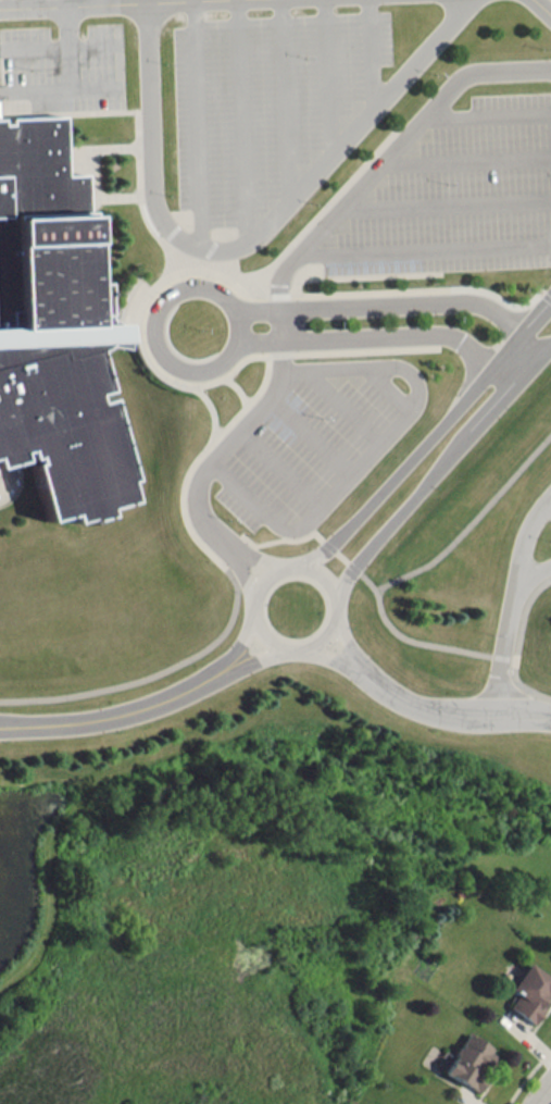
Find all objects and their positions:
road: (548, 2)
road: (42, 5)
road: (45, 11)
road: (63, 23)
road: (91, 33)
road: (33, 36)
parking lot: (65, 58)
road: (366, 58)
road: (92, 79)
road: (324, 79)
road: (55, 80)
road: (280, 102)
road: (139, 107)
road: (486, 108)
road: (237, 123)
road: (193, 127)
road: (135, 137)
road: (98, 138)
road: (386, 149)
road: (465, 150)
road: (89, 164)
parking lot: (460, 187)
road: (110, 188)
road: (444, 196)
road: (320, 203)
road: (424, 238)
road: (245, 243)
road: (356, 266)
road: (449, 295)
road: (397, 302)
building: (53, 319)
road: (130, 322)
road: (137, 322)
road: (153, 328)
road: (383, 335)
road: (437, 338)
road: (279, 339)
road: (237, 381)
road: (386, 386)
road: (417, 395)
road: (211, 404)
road: (341, 404)
road: (311, 434)
road: (434, 435)
parking lot: (306, 442)
road: (200, 455)
road: (442, 463)
road: (283, 467)
road: (202, 507)
road: (288, 537)
road: (233, 539)
road: (331, 545)
road: (261, 550)
road: (343, 554)
road: (223, 556)
road: (416, 560)
road: (247, 563)
road: (355, 563)
road: (530, 563)
road: (370, 571)
road: (259, 580)
road: (511, 593)
road: (524, 599)
road: (296, 629)
road: (343, 632)
road: (243, 637)
road: (334, 645)
road: (501, 647)
road: (253, 649)
road: (513, 649)
road: (514, 649)
road: (152, 672)
road: (525, 679)
road: (112, 705)
road: (452, 706)
building: (530, 982)
road: (527, 1026)
building: (469, 1052)
road: (527, 1070)
road: (469, 1092)
road: (542, 1094)
road: (506, 1102)

